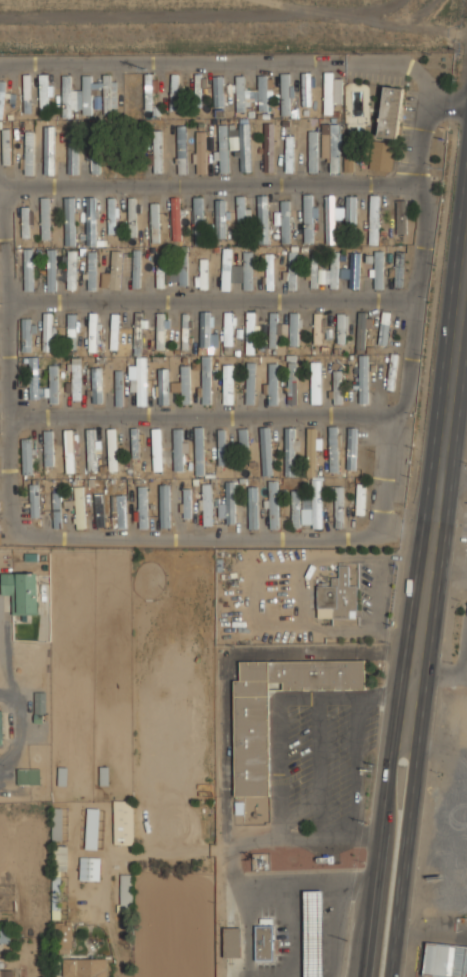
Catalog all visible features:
dam: (215, 34)
road: (230, 63)
road: (1, 65)
parking lot: (376, 78)
building: (305, 88)
building: (197, 90)
building: (148, 91)
building: (218, 91)
building: (173, 92)
building: (262, 92)
building: (43, 93)
building: (240, 93)
building: (284, 93)
building: (328, 93)
building: (107, 94)
building: (21, 95)
building: (86, 95)
building: (2, 96)
building: (66, 96)
building: (390, 111)
parking lot: (407, 125)
building: (232, 141)
building: (5, 147)
building: (244, 147)
building: (269, 147)
building: (222, 148)
building: (334, 148)
building: (181, 149)
building: (156, 151)
building: (312, 151)
building: (200, 152)
building: (28, 153)
building: (49, 153)
building: (288, 153)
building: (94, 156)
building: (72, 160)
building: (348, 165)
road: (210, 183)
building: (350, 210)
building: (112, 215)
building: (131, 216)
building: (401, 217)
building: (45, 218)
building: (220, 218)
building: (308, 218)
building: (175, 219)
building: (262, 219)
building: (331, 219)
building: (373, 219)
building: (198, 220)
building: (69, 221)
building: (90, 221)
building: (285, 221)
building: (25, 222)
building: (154, 224)
building: (178, 267)
building: (71, 269)
building: (226, 269)
building: (399, 269)
building: (28, 270)
building: (51, 270)
building: (92, 270)
building: (159, 270)
building: (313, 270)
building: (378, 270)
building: (243, 271)
building: (291, 271)
building: (352, 271)
building: (113, 272)
building: (269, 272)
building: (330, 272)
building: (149, 273)
building: (136, 275)
building: (202, 275)
road: (213, 300)
building: (318, 328)
building: (341, 328)
building: (384, 328)
building: (161, 329)
building: (228, 329)
building: (275, 329)
building: (361, 330)
building: (72, 331)
building: (114, 331)
building: (207, 331)
building: (138, 332)
building: (250, 332)
building: (48, 333)
building: (93, 333)
building: (26, 335)
building: (390, 372)
road: (9, 378)
building: (33, 378)
building: (291, 379)
building: (362, 379)
building: (74, 380)
building: (139, 380)
building: (205, 381)
building: (315, 382)
building: (250, 383)
building: (182, 384)
building: (227, 384)
building: (271, 384)
building: (52, 385)
building: (96, 385)
building: (162, 386)
building: (336, 387)
building: (118, 388)
road: (205, 417)
building: (243, 439)
building: (134, 442)
building: (221, 447)
building: (48, 448)
building: (351, 448)
building: (91, 449)
building: (112, 449)
building: (177, 449)
building: (333, 449)
building: (156, 450)
building: (69, 451)
building: (199, 451)
building: (265, 451)
building: (289, 452)
building: (27, 456)
road: (435, 471)
building: (314, 474)
road: (451, 476)
road: (385, 480)
building: (360, 499)
building: (34, 500)
building: (206, 503)
building: (228, 503)
building: (186, 504)
building: (272, 504)
building: (56, 506)
building: (164, 506)
building: (77, 507)
building: (142, 507)
building: (338, 507)
building: (252, 508)
road: (449, 508)
building: (295, 509)
building: (99, 510)
building: (118, 511)
building: (305, 511)
road: (463, 529)
road: (445, 547)
road: (465, 549)
building: (21, 591)
building: (339, 594)
building: (40, 703)
building: (0, 728)
road: (18, 735)
building: (251, 742)
road: (278, 752)
parking lot: (321, 756)
road: (356, 766)
road: (318, 767)
building: (28, 776)
building: (123, 822)
building: (56, 823)
building: (91, 828)
road: (378, 846)
road: (403, 848)
building: (89, 868)
building: (58, 874)
building: (125, 893)
building: (313, 933)
gas station: (313, 933)
building: (63, 937)
building: (231, 942)
building: (264, 943)
building: (445, 960)
building: (84, 967)
building: (6, 973)

